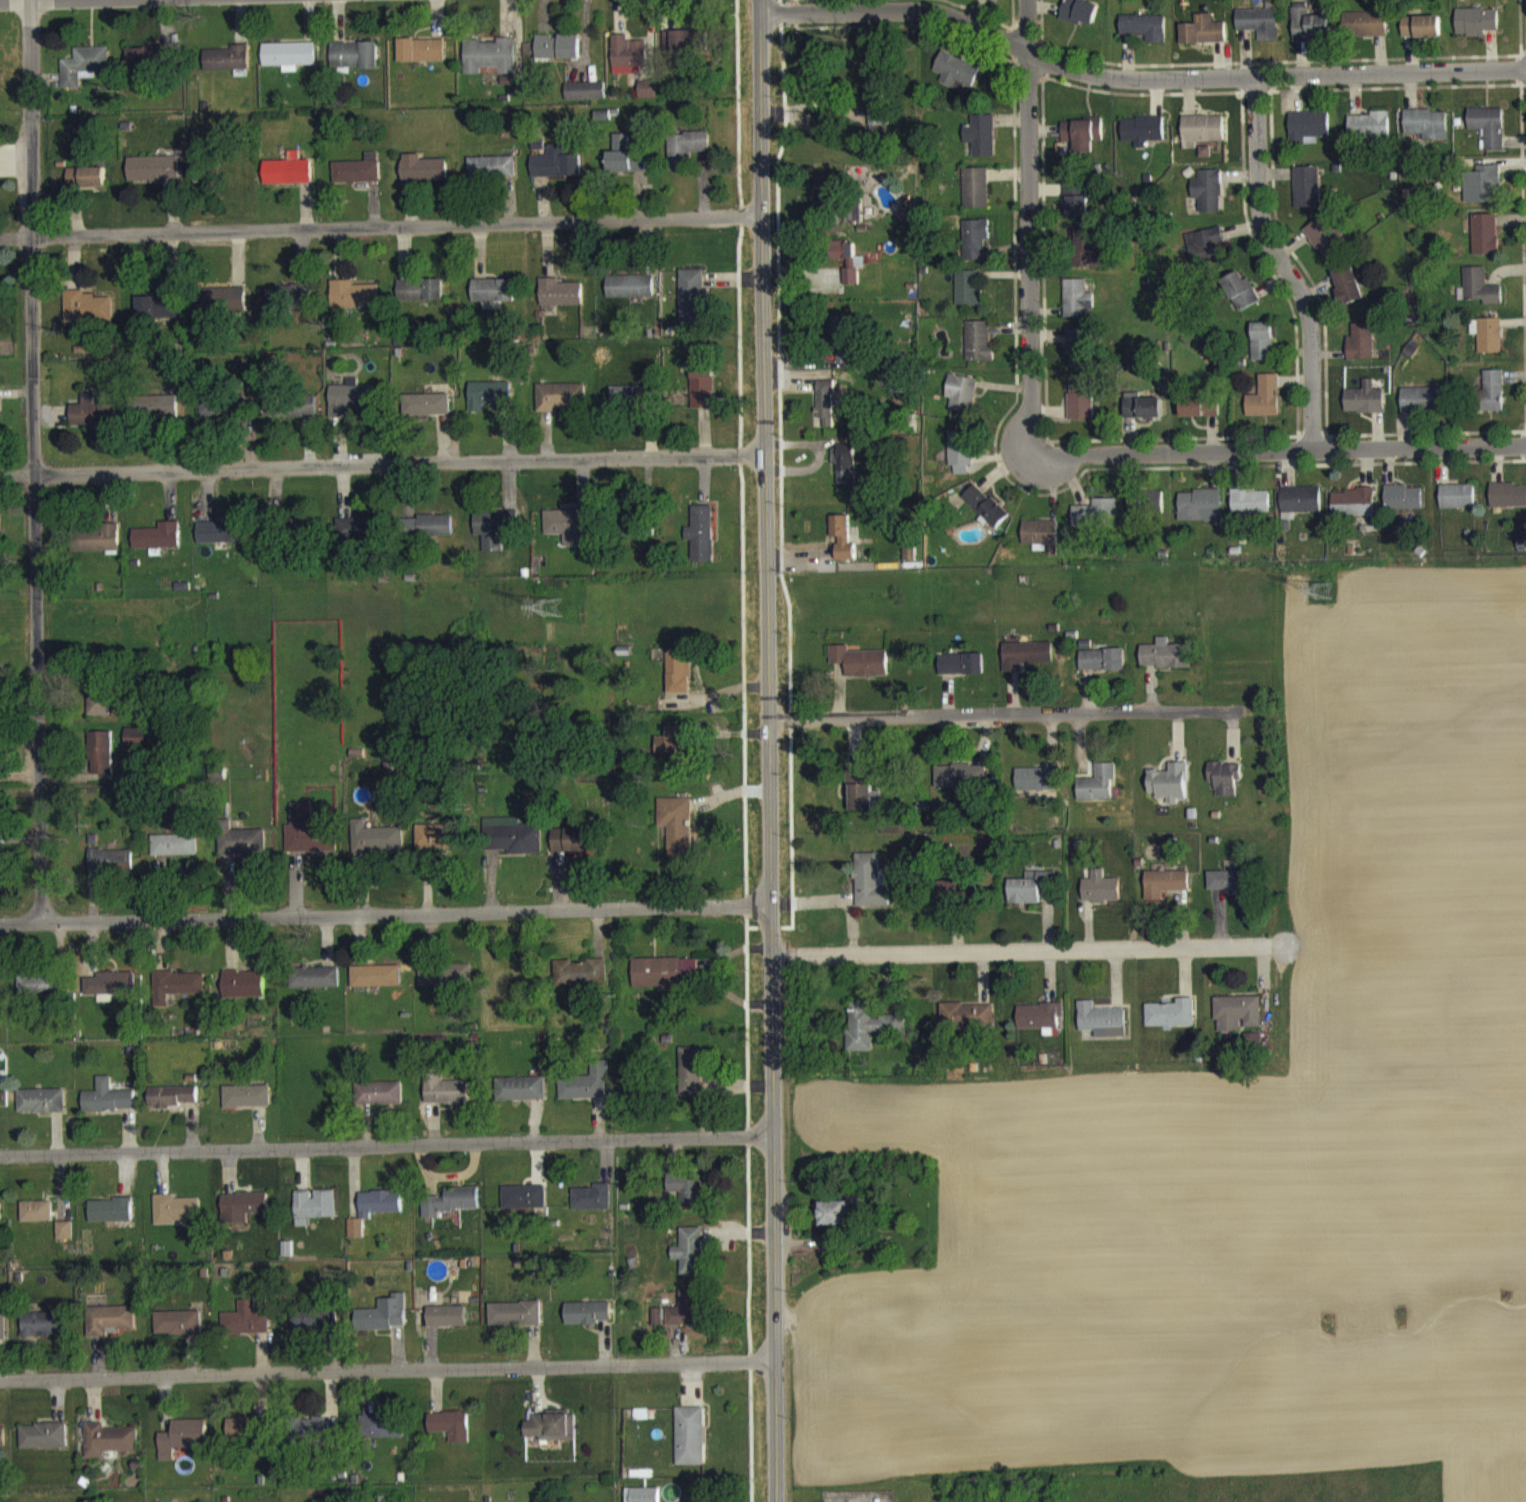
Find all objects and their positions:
building: (1078, 19)
building: (1476, 31)
building: (1259, 32)
building: (1310, 32)
building: (1365, 33)
building: (1144, 36)
building: (1421, 36)
building: (1203, 40)
building: (679, 51)
building: (557, 56)
building: (421, 60)
building: (354, 64)
building: (628, 64)
building: (289, 65)
building: (490, 66)
building: (150, 67)
building: (226, 68)
building: (84, 75)
road: (1134, 78)
building: (955, 81)
building: (647, 98)
building: (585, 100)
building: (875, 116)
building: (1427, 133)
building: (1308, 135)
building: (1369, 135)
building: (1488, 136)
building: (1201, 139)
building: (1142, 140)
building: (1081, 143)
building: (979, 145)
building: (685, 158)
building: (625, 166)
building: (556, 173)
building: (491, 177)
building: (423, 178)
building: (154, 179)
building: (358, 179)
building: (288, 180)
building: (87, 186)
building: (1486, 192)
building: (974, 197)
building: (1306, 197)
building: (1208, 200)
building: (1077, 209)
building: (847, 214)
road: (379, 225)
road: (1023, 230)
building: (1484, 244)
building: (1324, 247)
building: (974, 250)
building: (1209, 250)
building: (1089, 260)
road: (1283, 264)
building: (848, 270)
building: (1347, 294)
building: (630, 296)
building: (969, 297)
building: (1478, 297)
building: (420, 299)
building: (1240, 300)
building: (493, 302)
building: (559, 302)
building: (354, 304)
building: (691, 305)
building: (288, 307)
building: (223, 309)
building: (1078, 309)
building: (87, 316)
building: (160, 317)
building: (1487, 344)
building: (841, 346)
building: (978, 350)
building: (1261, 351)
building: (1360, 352)
building: (1080, 356)
building: (700, 394)
building: (1492, 400)
building: (961, 403)
building: (488, 405)
building: (562, 406)
building: (630, 406)
building: (1264, 407)
building: (350, 409)
building: (1080, 409)
building: (1364, 409)
building: (1421, 409)
building: (825, 412)
building: (164, 414)
building: (426, 414)
building: (289, 416)
building: (1140, 416)
building: (1199, 416)
building: (213, 417)
building: (92, 420)
road: (1273, 452)
building: (959, 461)
road: (382, 464)
road: (31, 465)
building: (844, 473)
building: (1507, 505)
building: (1457, 506)
building: (1403, 507)
building: (1250, 510)
building: (1299, 511)
building: (1144, 512)
building: (1353, 512)
building: (985, 515)
building: (1199, 515)
building: (1095, 523)
building: (568, 534)
building: (434, 535)
building: (357, 537)
building: (493, 537)
building: (222, 542)
building: (701, 543)
building: (1040, 545)
building: (157, 546)
building: (842, 546)
building: (97, 549)
building: (909, 563)
power tower: (1327, 590)
power tower: (557, 606)
building: (1024, 665)
building: (1165, 665)
building: (1102, 669)
building: (860, 671)
building: (961, 674)
building: (679, 681)
building: (98, 709)
road: (1005, 714)
building: (140, 749)
road: (769, 750)
building: (675, 756)
building: (100, 762)
building: (961, 785)
building: (1224, 787)
building: (1037, 788)
building: (1098, 793)
building: (1169, 793)
building: (677, 833)
building: (310, 841)
building: (440, 846)
building: (512, 846)
building: (377, 847)
building: (574, 849)
building: (237, 851)
building: (173, 854)
building: (109, 872)
building: (871, 891)
building: (1225, 891)
building: (1164, 893)
building: (1100, 898)
building: (956, 901)
road: (385, 920)
road: (1027, 950)
building: (581, 982)
building: (665, 982)
building: (376, 986)
building: (445, 986)
building: (314, 987)
building: (36, 994)
building: (243, 994)
building: (113, 995)
building: (175, 995)
building: (1236, 1022)
building: (1171, 1024)
building: (966, 1025)
building: (1038, 1027)
building: (1101, 1030)
building: (870, 1036)
building: (690, 1081)
building: (586, 1093)
building: (520, 1098)
building: (446, 1100)
building: (379, 1103)
building: (173, 1106)
building: (246, 1106)
building: (108, 1107)
building: (41, 1111)
road: (386, 1145)
building: (687, 1199)
building: (524, 1207)
building: (592, 1207)
building: (451, 1211)
building: (243, 1216)
building: (314, 1216)
building: (374, 1218)
building: (175, 1219)
building: (110, 1220)
building: (36, 1221)
building: (0, 1222)
building: (835, 1223)
building: (64, 1240)
building: (286, 1259)
building: (690, 1261)
building: (687, 1320)
building: (515, 1323)
building: (587, 1323)
building: (383, 1324)
building: (446, 1326)
building: (658, 1326)
building: (109, 1329)
building: (245, 1329)
building: (316, 1331)
building: (2, 1332)
building: (178, 1332)
building: (44, 1334)
road: (387, 1368)
building: (451, 1435)
building: (381, 1436)
building: (552, 1437)
building: (246, 1438)
building: (311, 1438)
building: (43, 1446)
building: (690, 1446)
building: (2, 1447)
building: (182, 1447)
building: (108, 1449)
building: (643, 1499)

